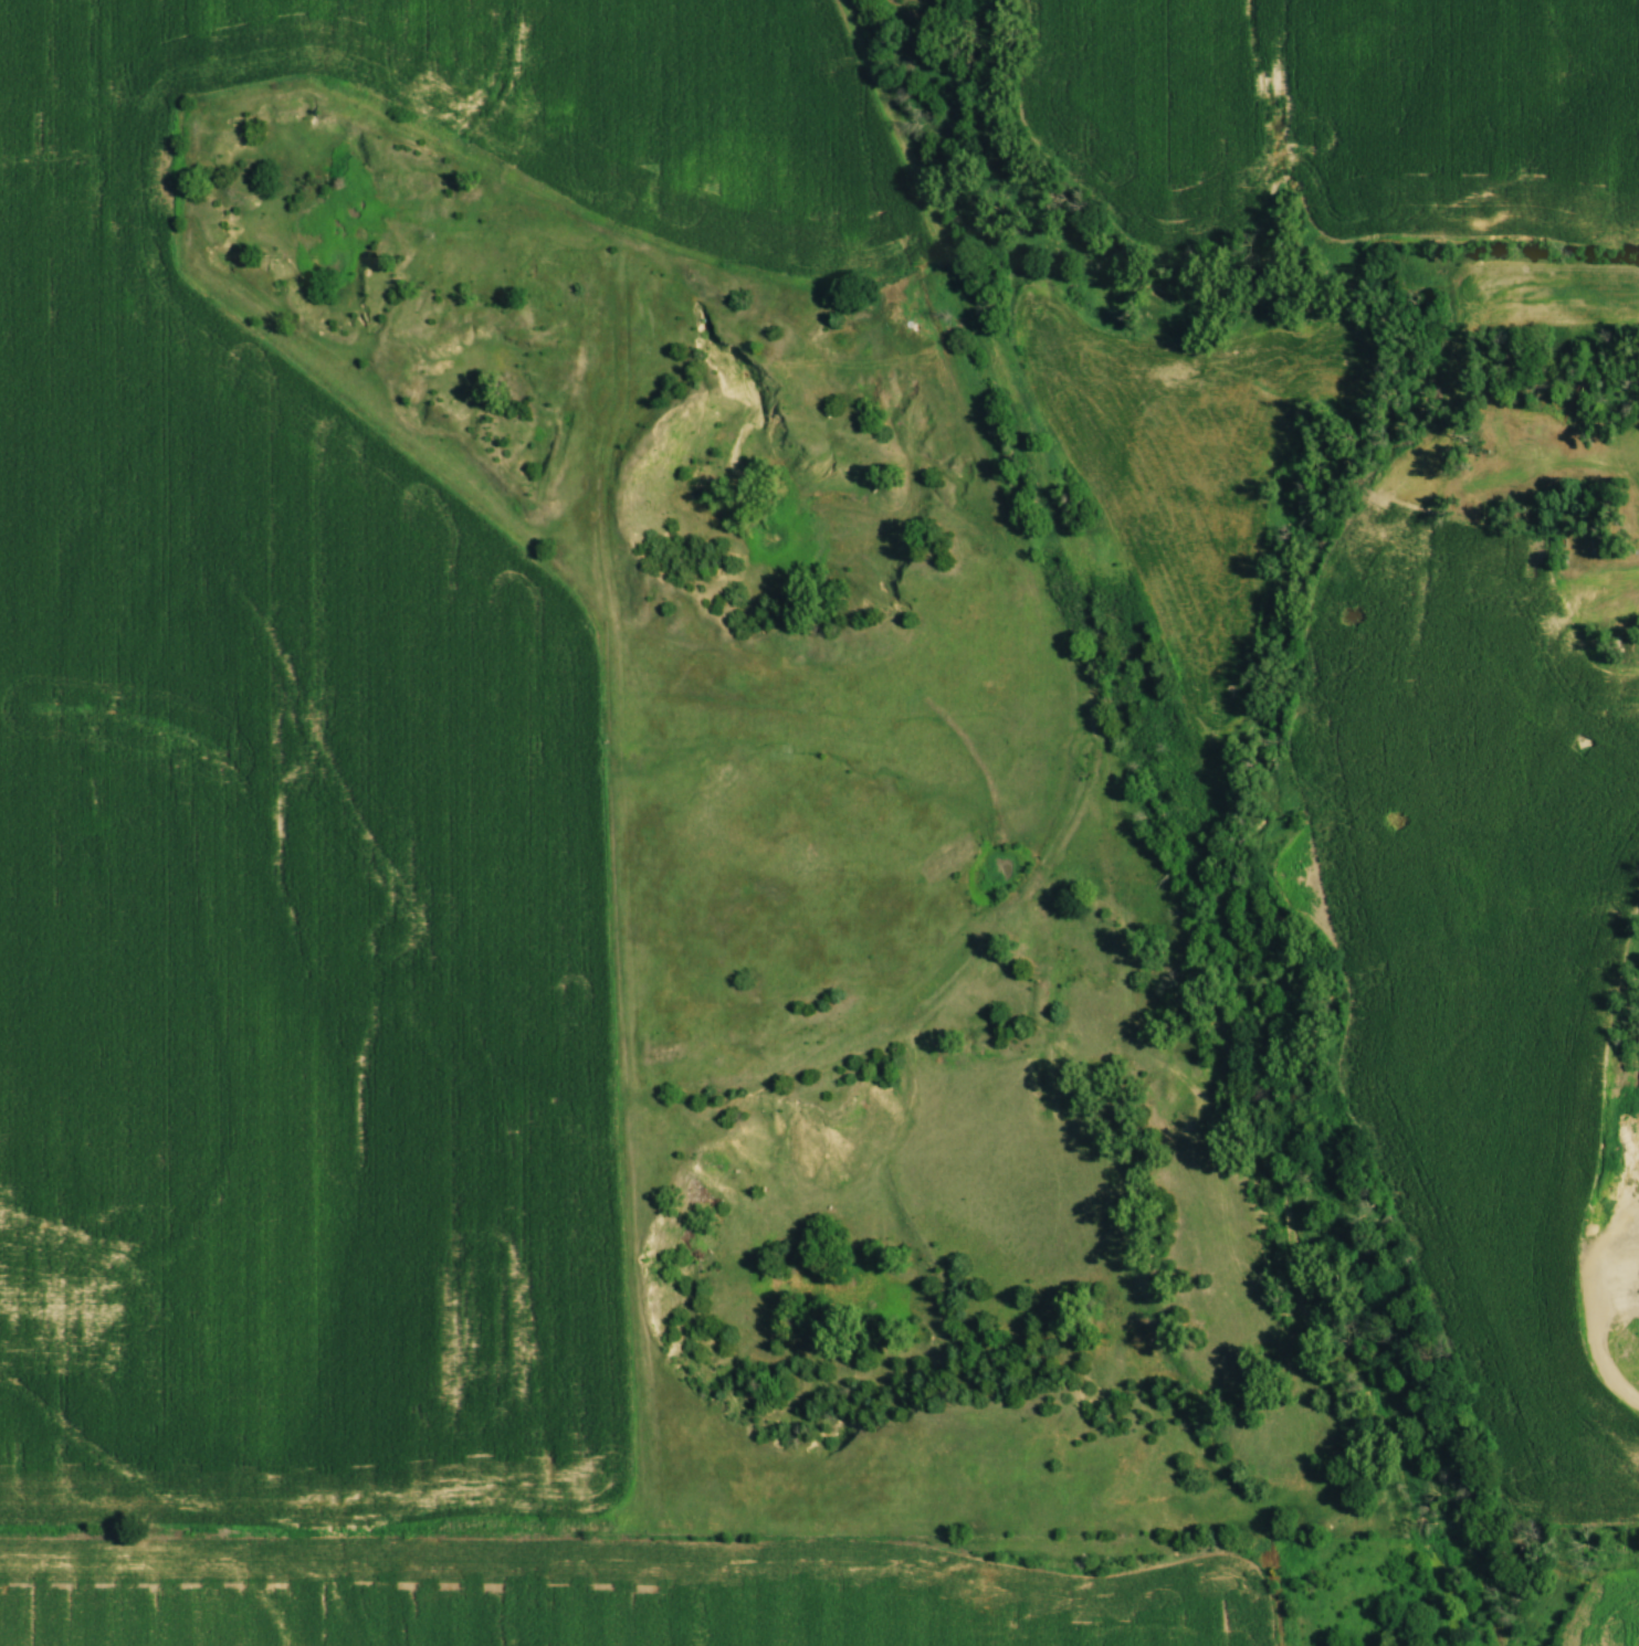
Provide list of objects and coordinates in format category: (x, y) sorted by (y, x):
road: (1600, 1348)

